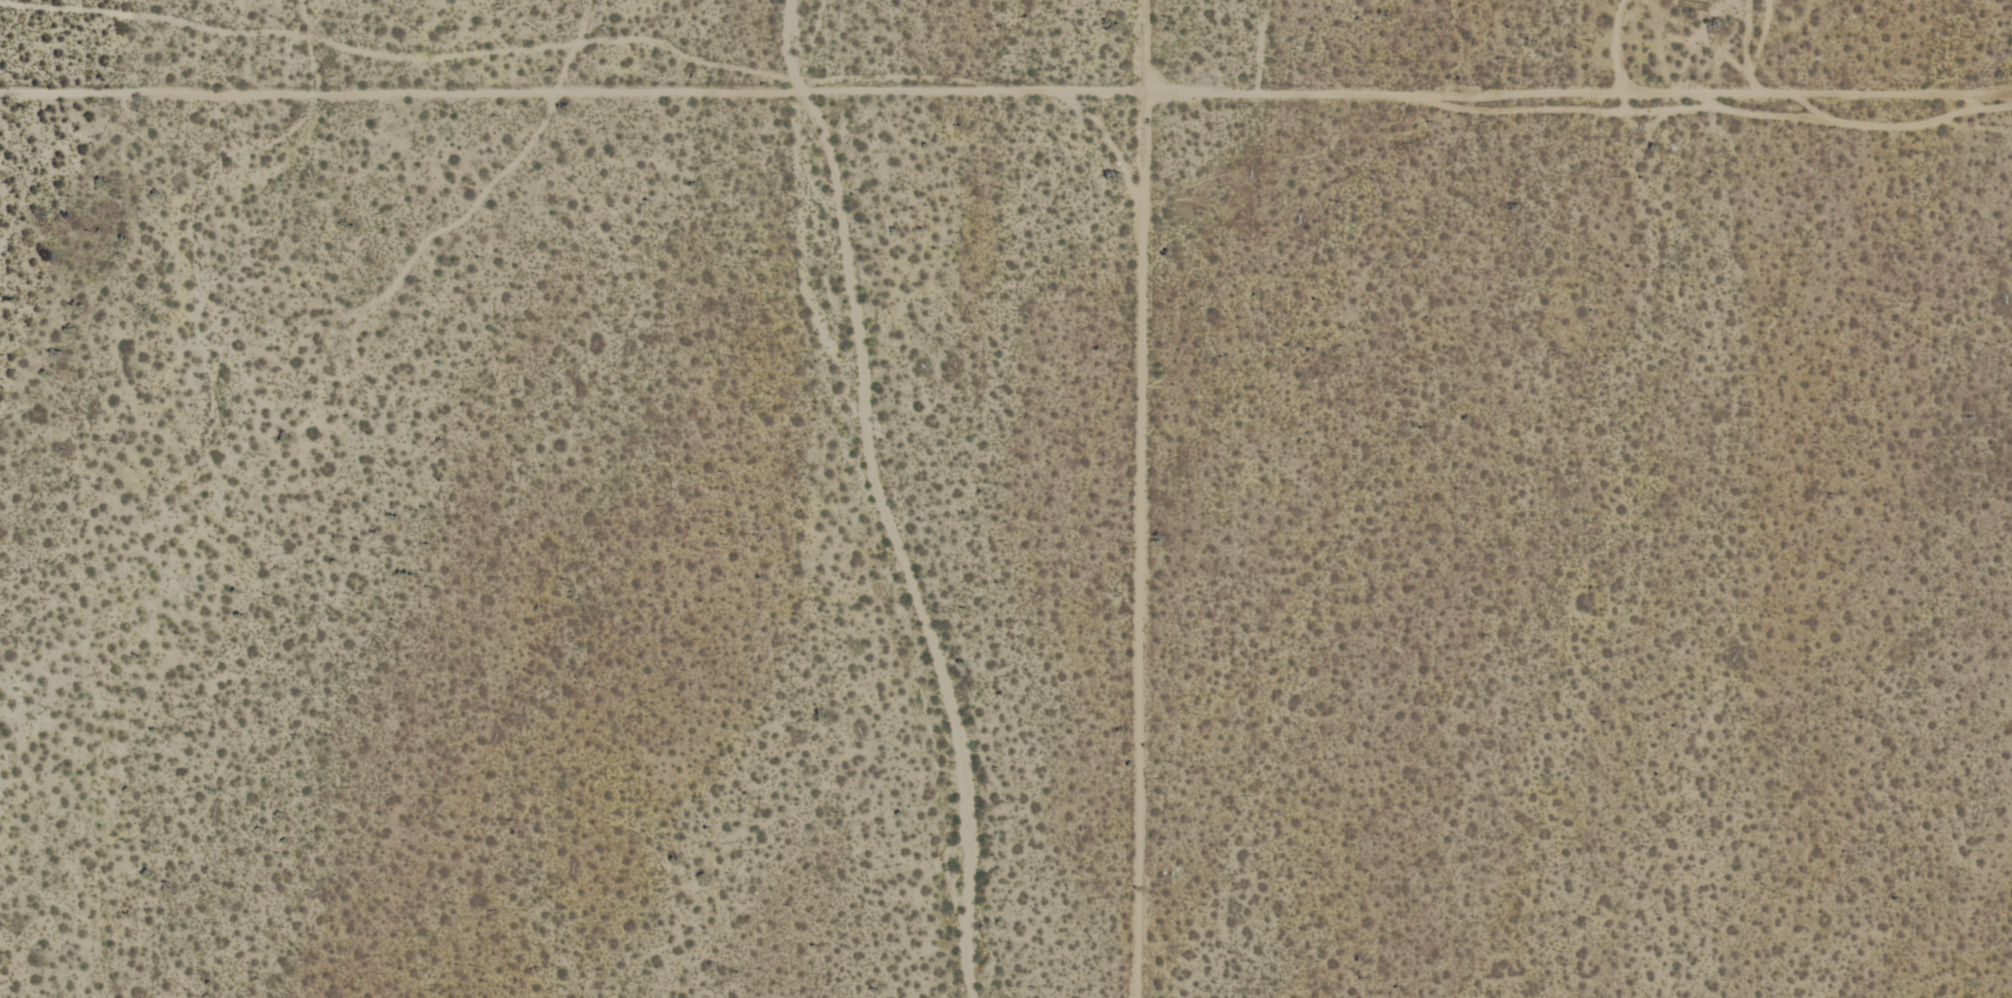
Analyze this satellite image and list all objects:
road: (1006, 97)
road: (1152, 498)

